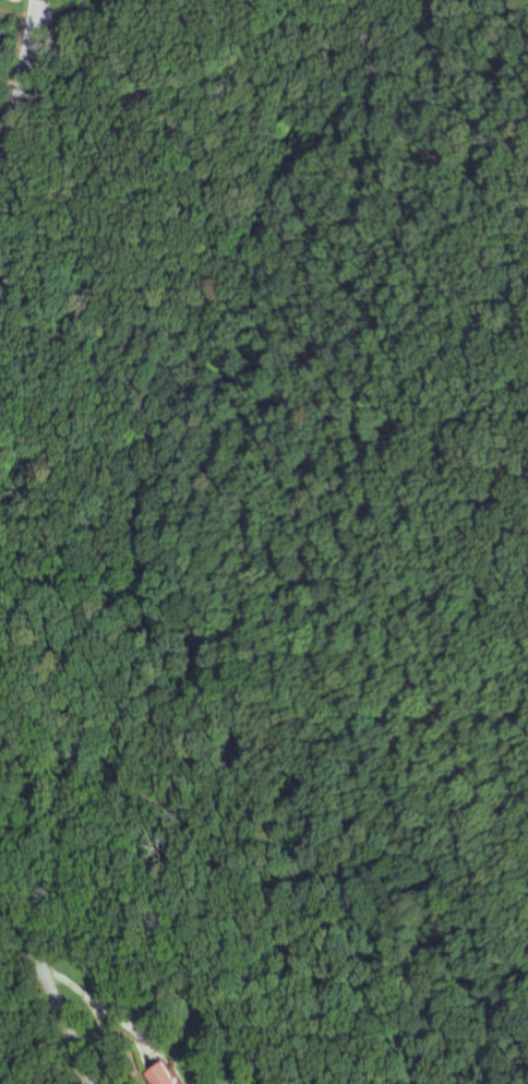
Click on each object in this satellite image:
road: (24, 86)
road: (76, 976)
building: (165, 1073)

